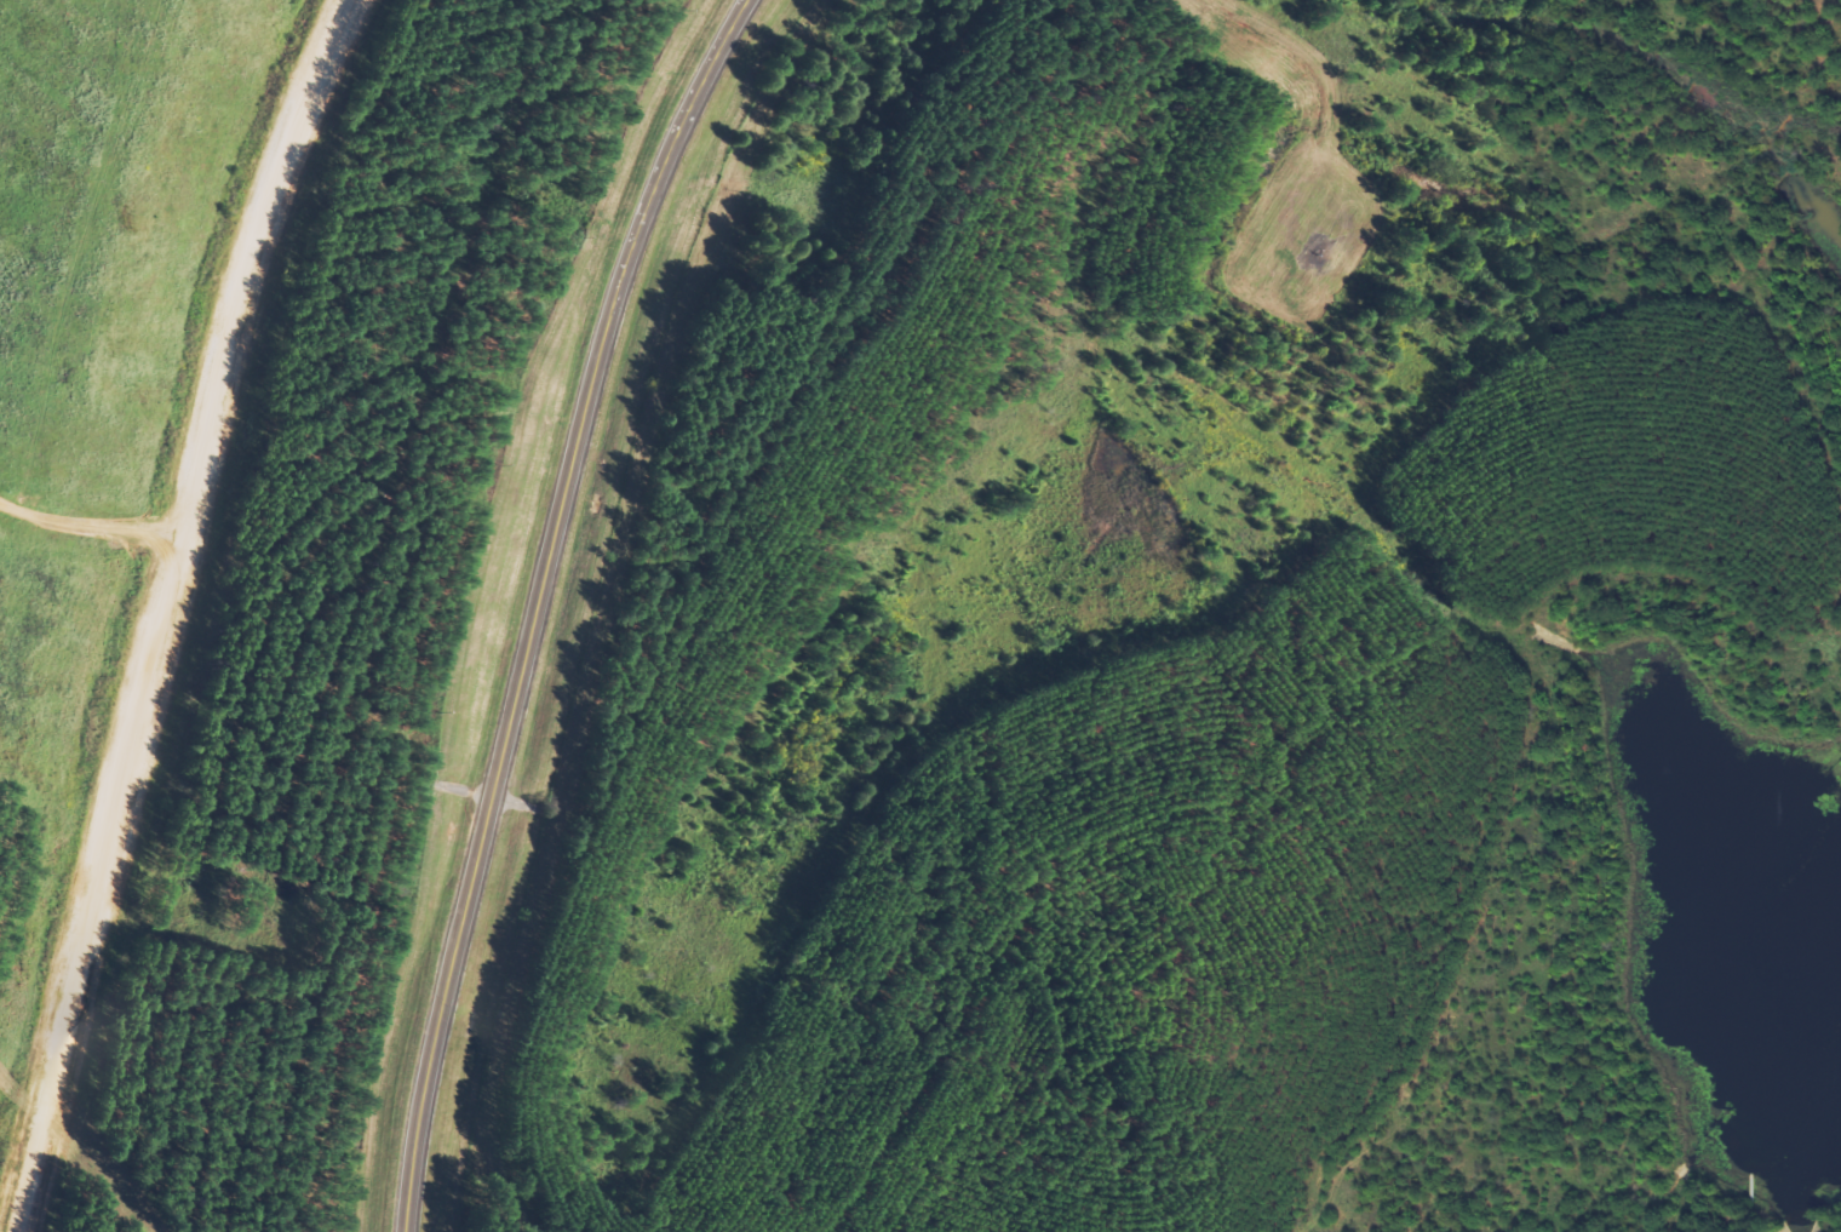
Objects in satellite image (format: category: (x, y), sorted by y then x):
road: (256, 267)
road: (538, 603)
road: (130, 792)

